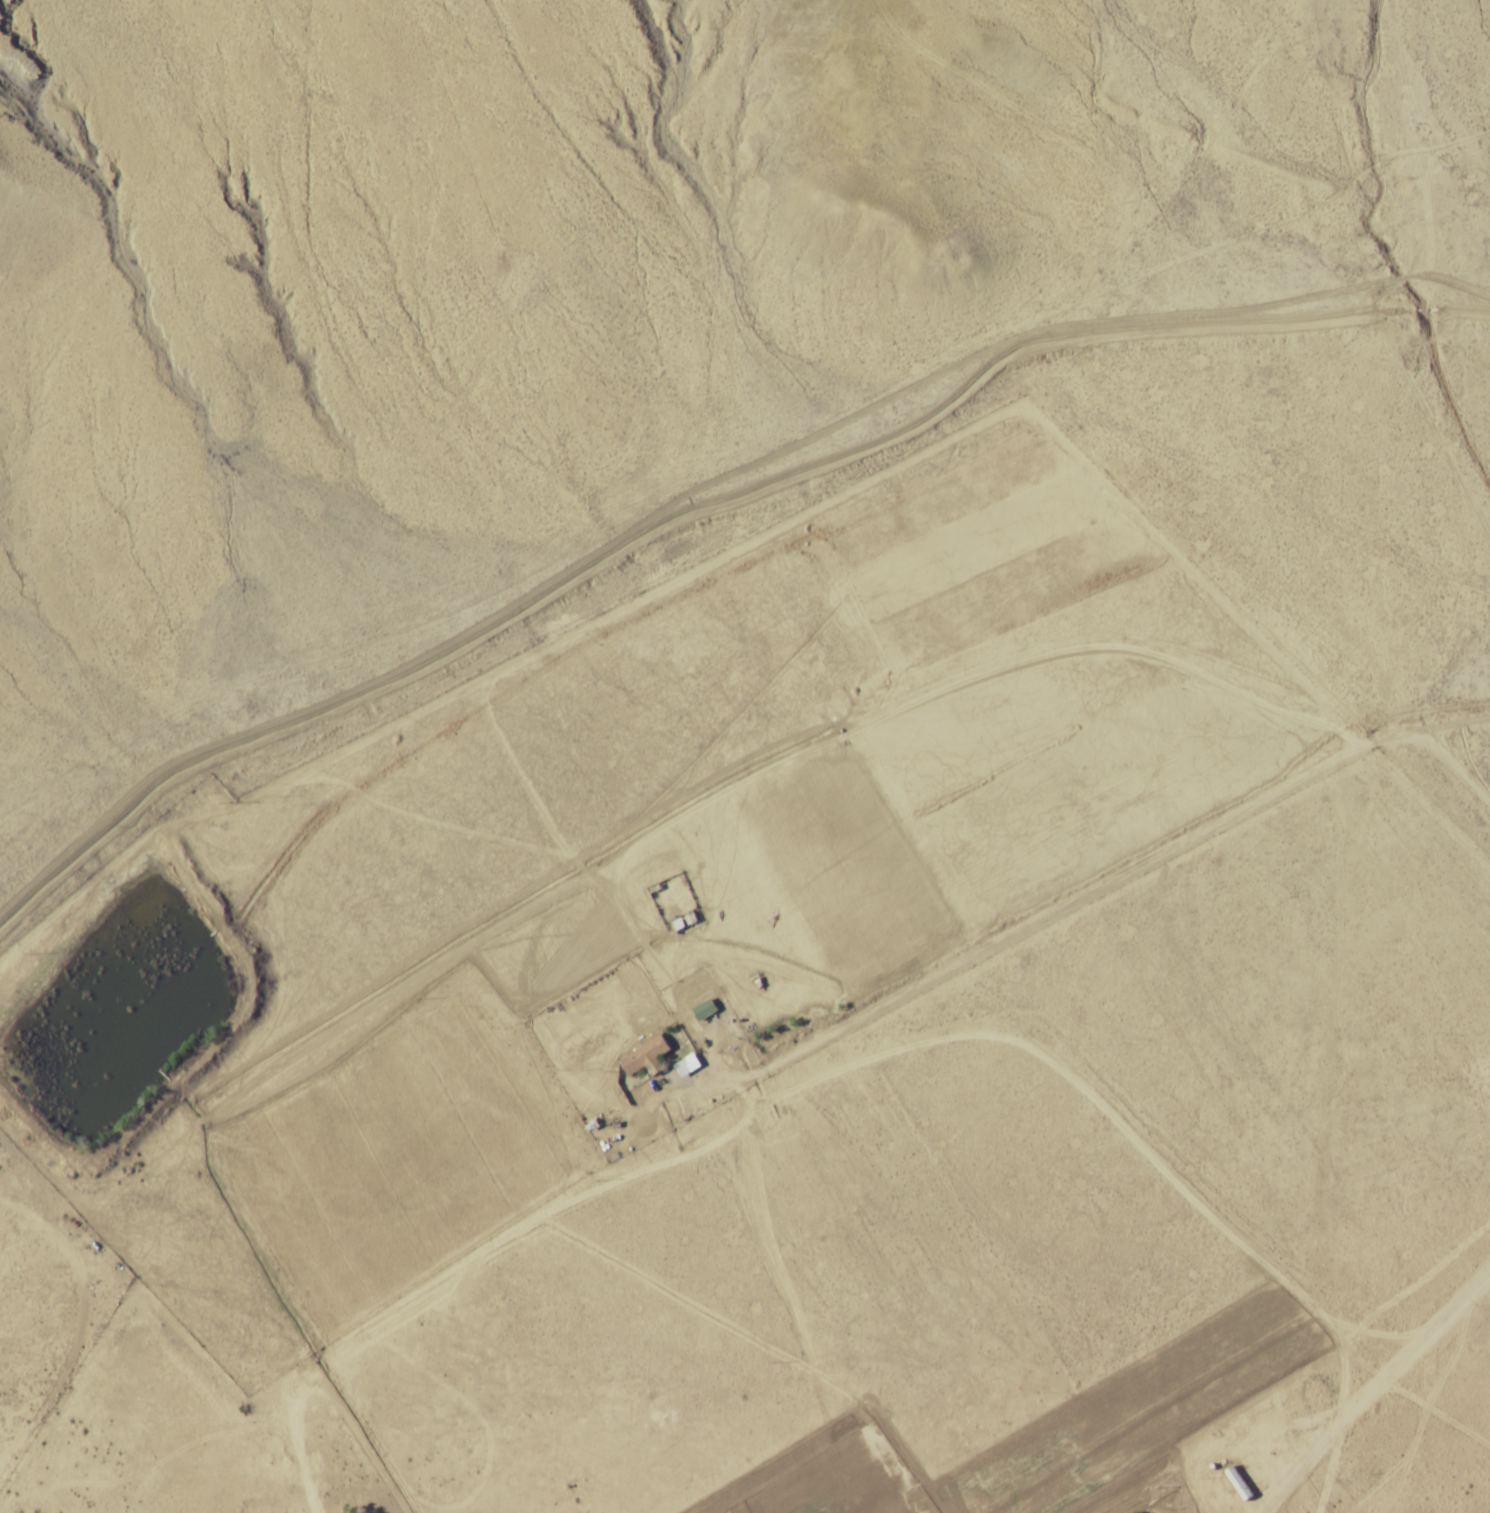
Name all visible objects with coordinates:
road: (705, 517)
road: (1456, 765)
building: (644, 1057)
building: (686, 1065)

